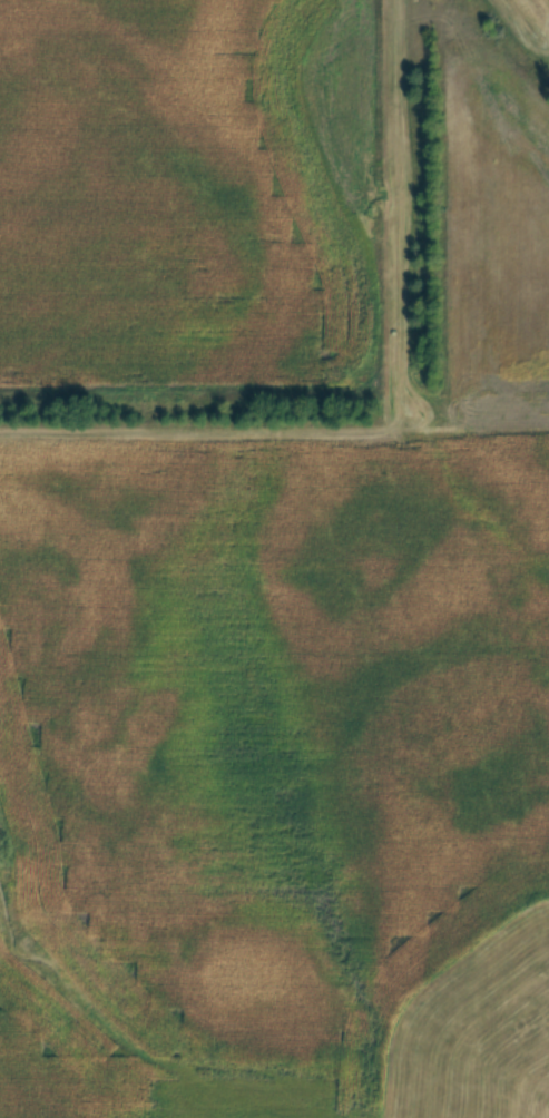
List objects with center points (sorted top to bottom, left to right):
crop: (189, 190)
crop: (287, 693)

